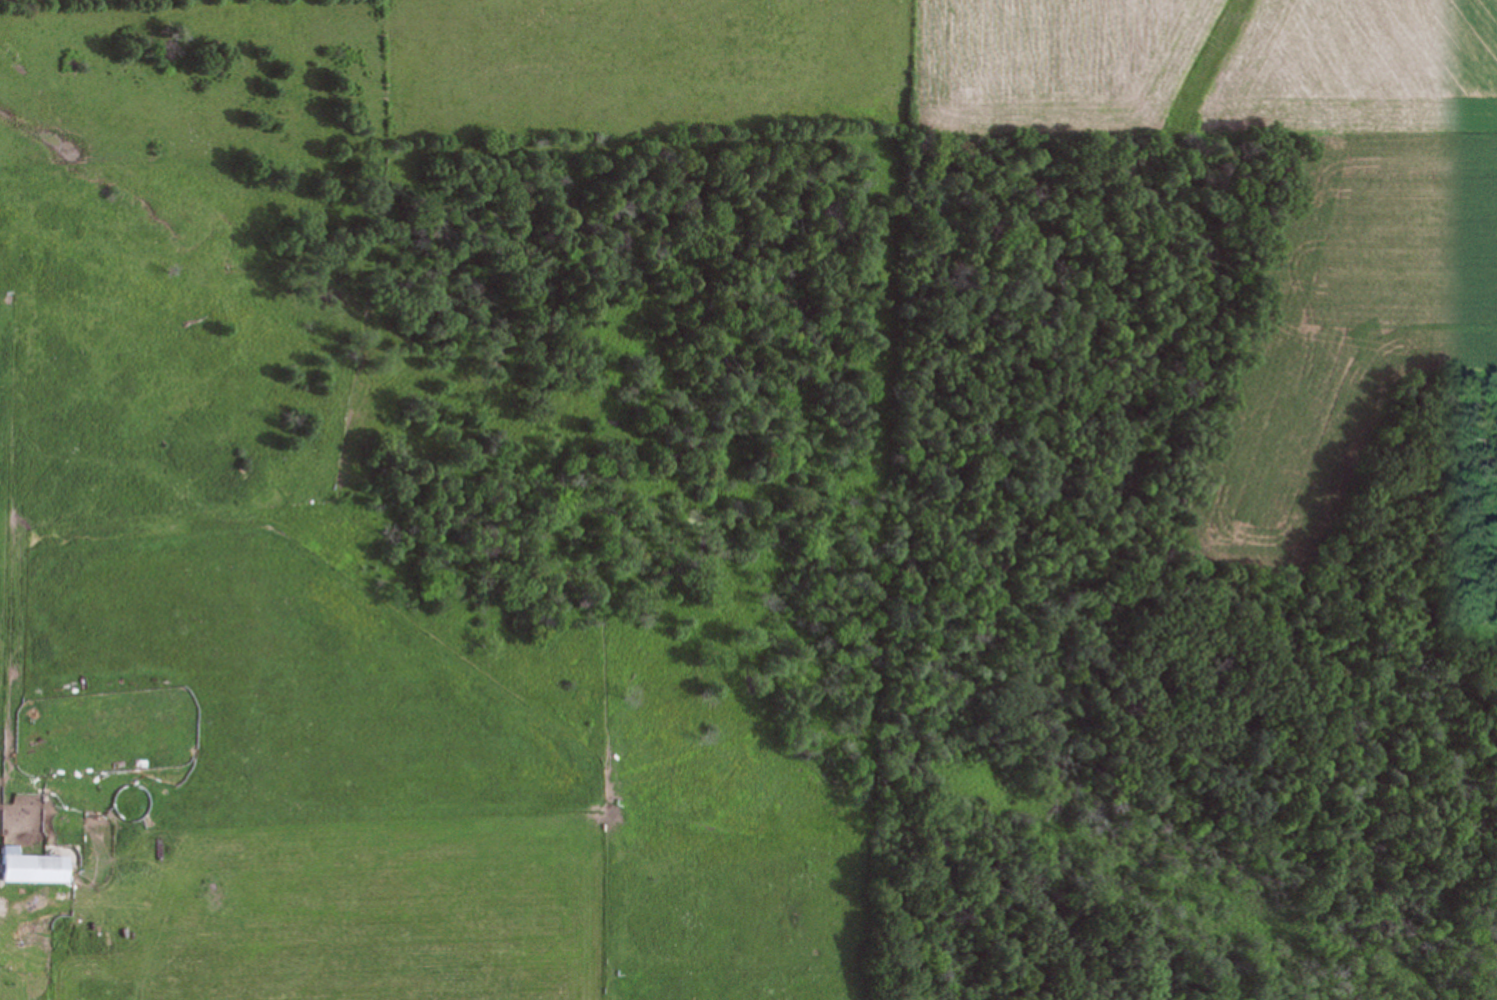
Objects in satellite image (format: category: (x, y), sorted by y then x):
building: (30, 867)

